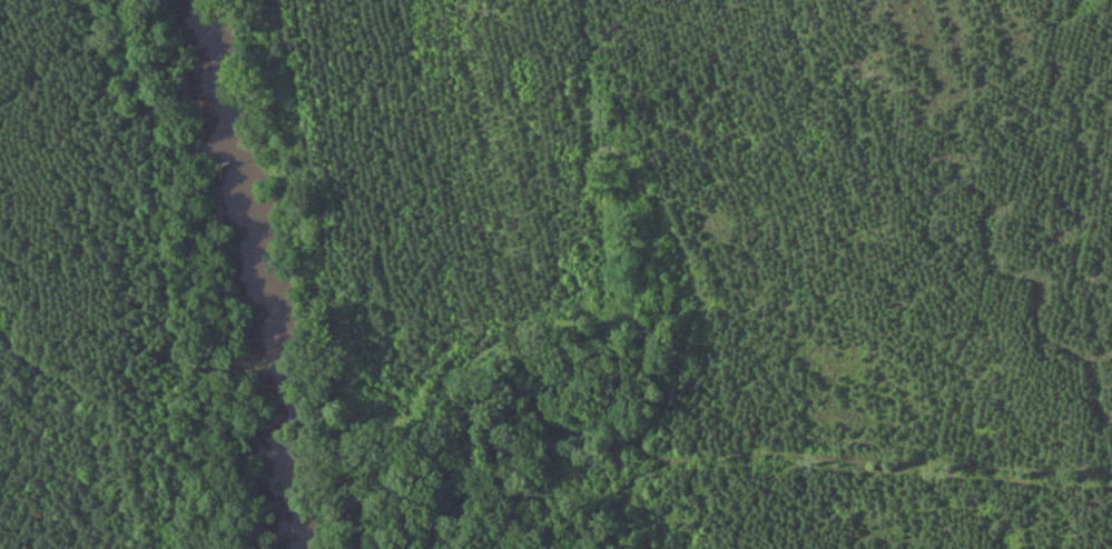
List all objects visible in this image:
river: (256, 274)

